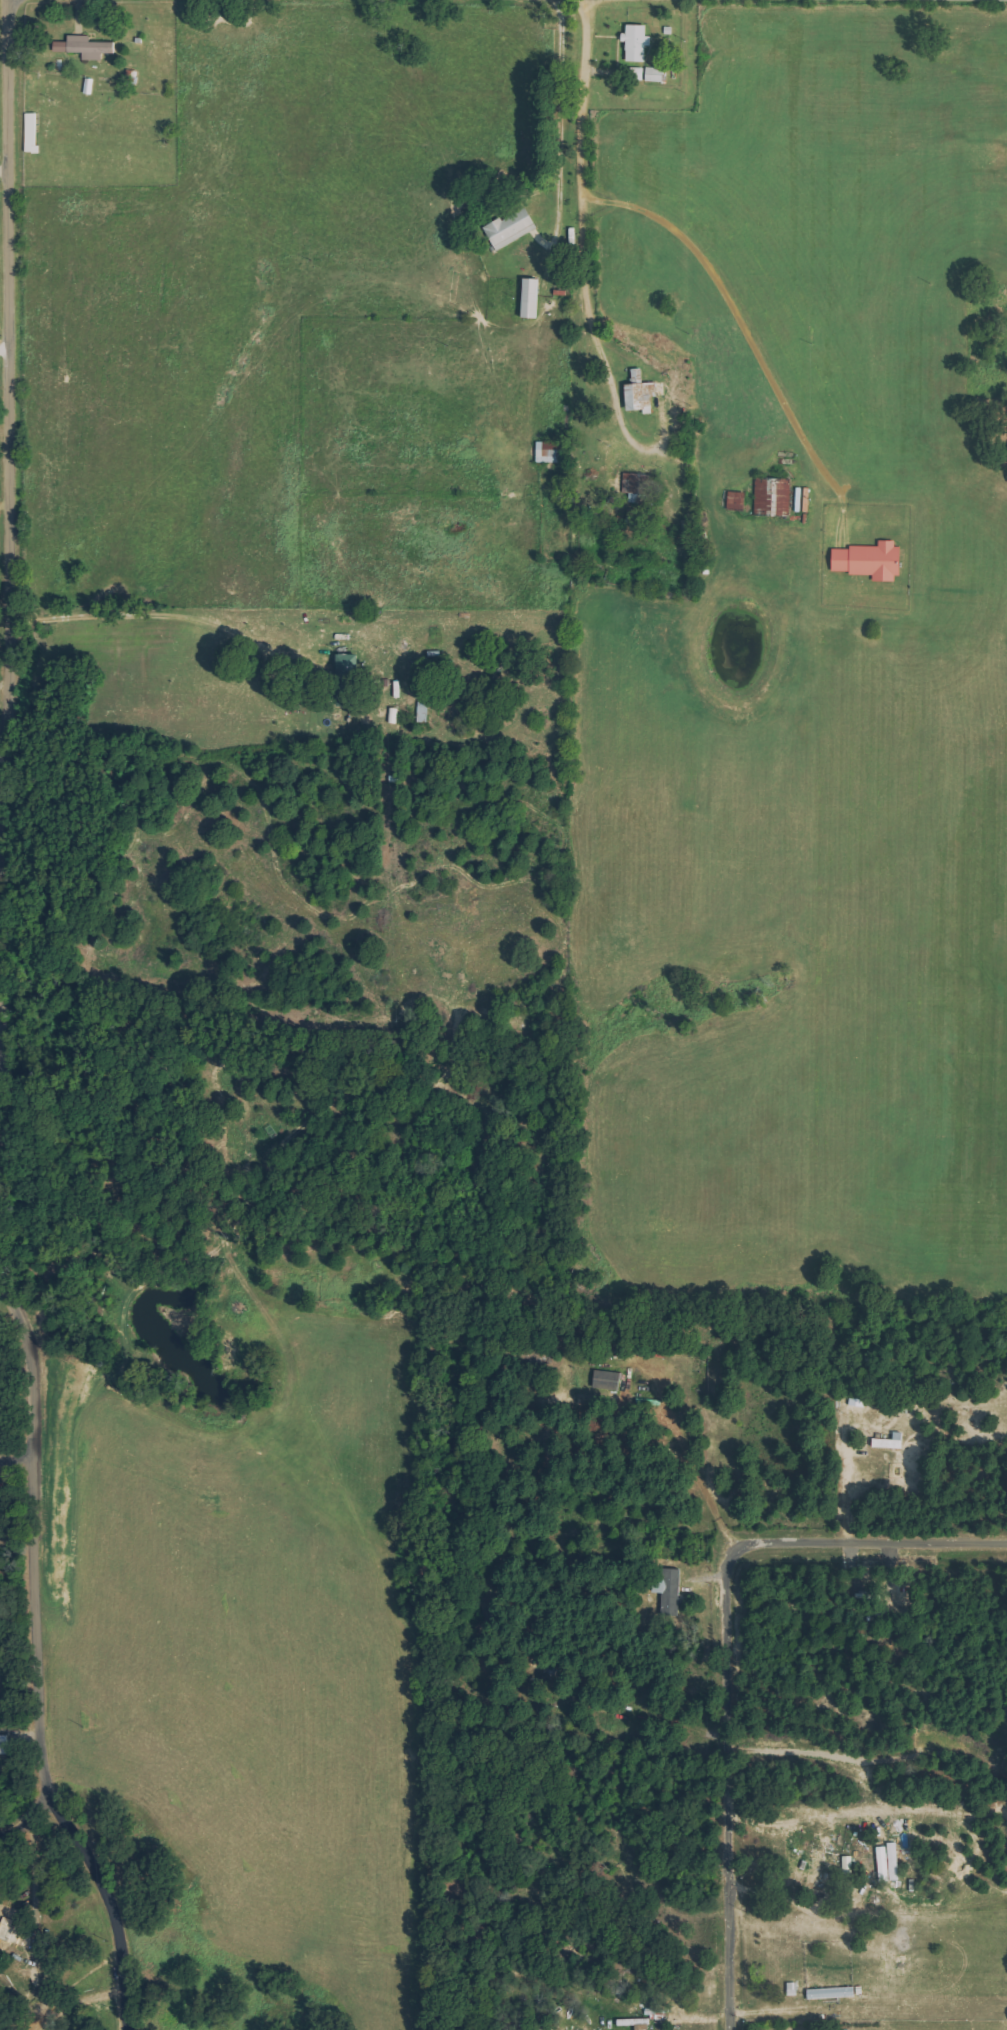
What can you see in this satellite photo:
building: (639, 43)
building: (86, 47)
building: (649, 74)
building: (33, 132)
building: (514, 227)
building: (534, 297)
building: (642, 391)
building: (551, 451)
building: (774, 495)
building: (739, 500)
road: (8, 526)
building: (863, 561)
building: (608, 1380)
building: (892, 1441)
road: (15, 1459)
road: (867, 1542)
building: (670, 1591)
road: (34, 1665)
building: (5, 1744)
road: (724, 1789)
building: (874, 1815)
road: (28, 1820)
building: (850, 1865)
building: (818, 1867)
building: (839, 1992)
building: (637, 2023)

